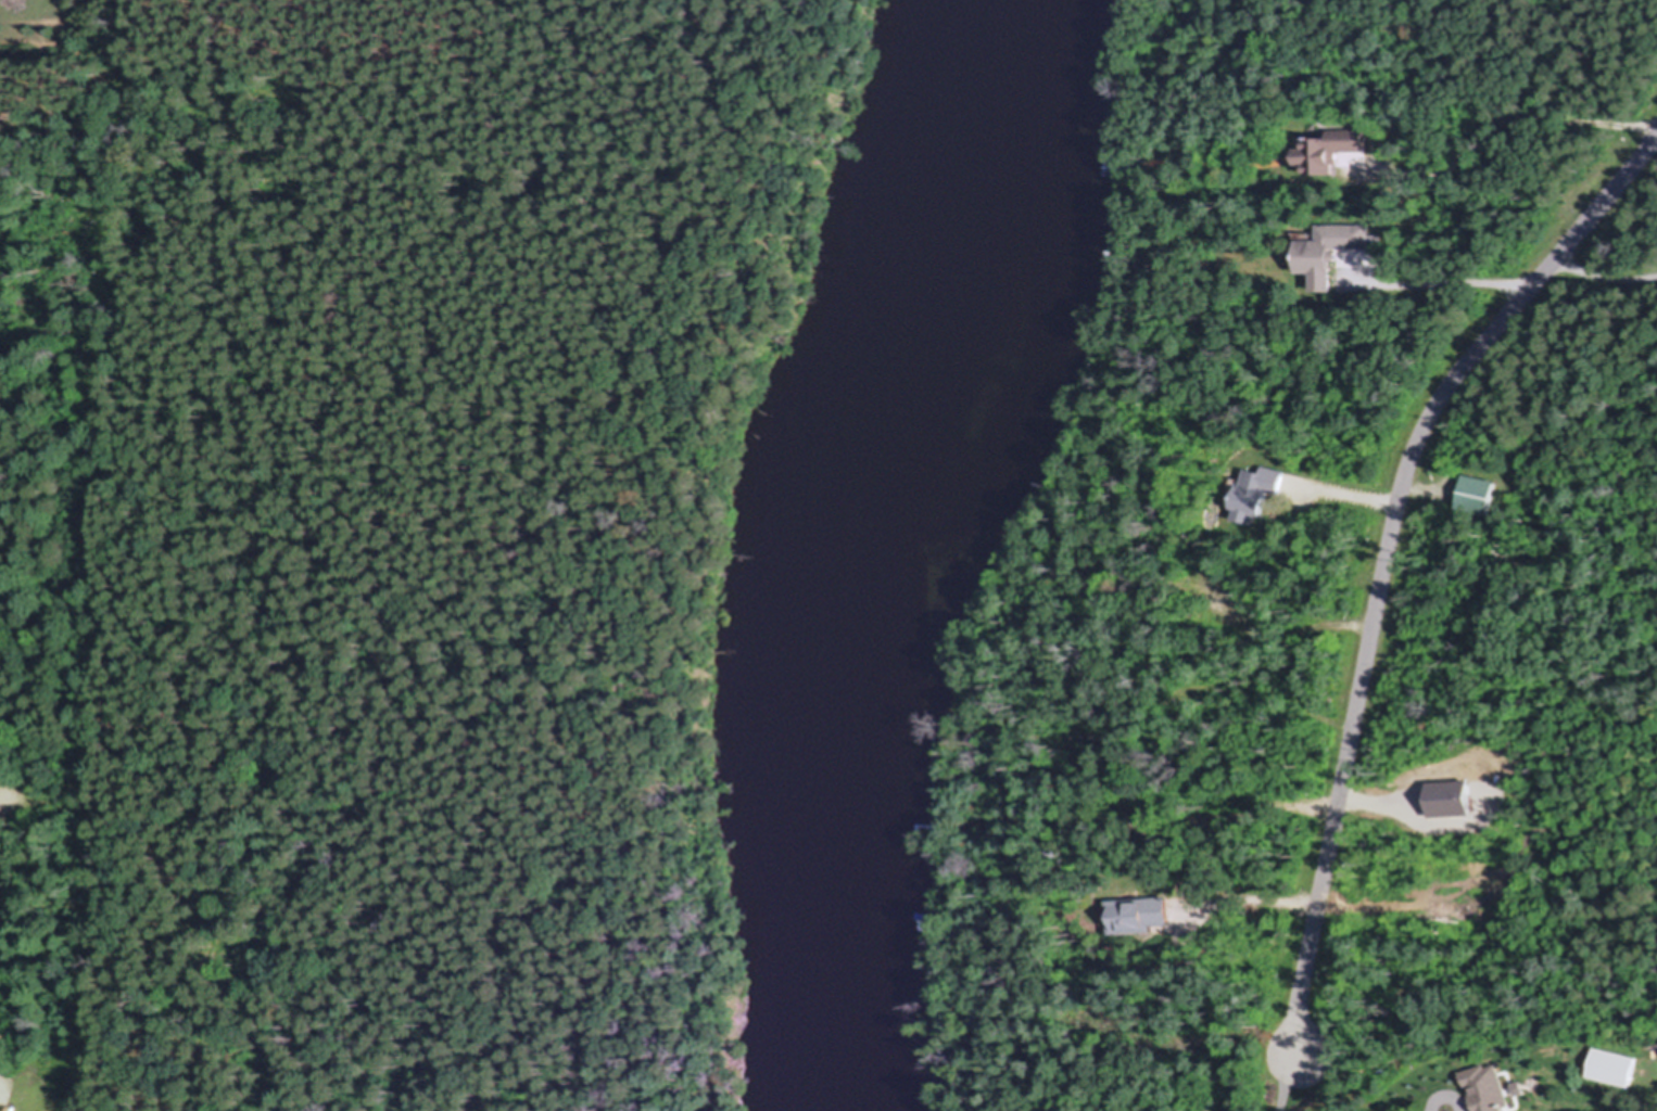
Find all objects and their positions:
road: (1538, 118)
building: (1333, 149)
building: (1331, 251)
road: (1603, 277)
road: (1472, 284)
building: (1480, 495)
river: (874, 549)
road: (1387, 552)
building: (1224, 579)
road: (5, 929)

